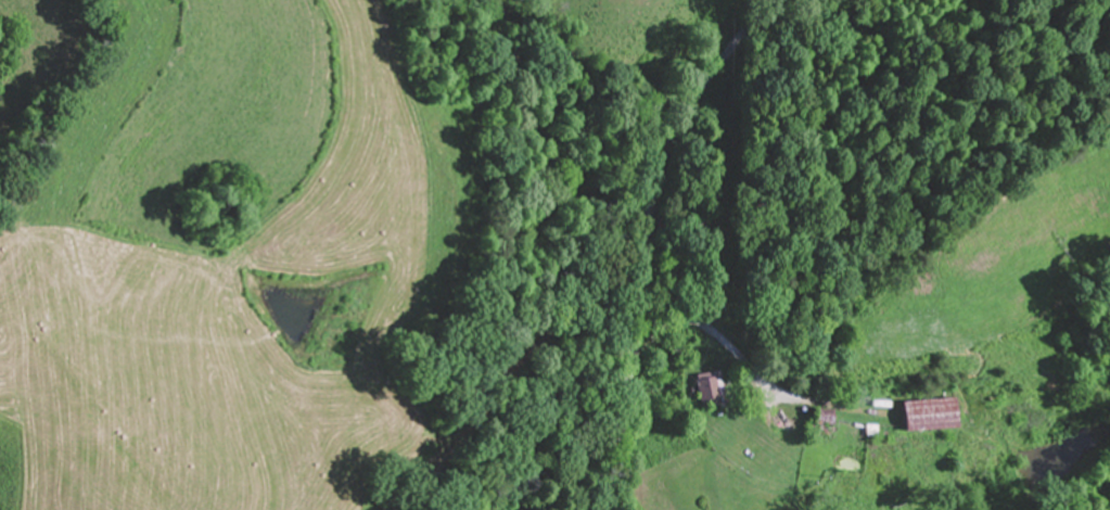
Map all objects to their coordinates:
road: (649, 233)
building: (711, 387)
building: (930, 417)

